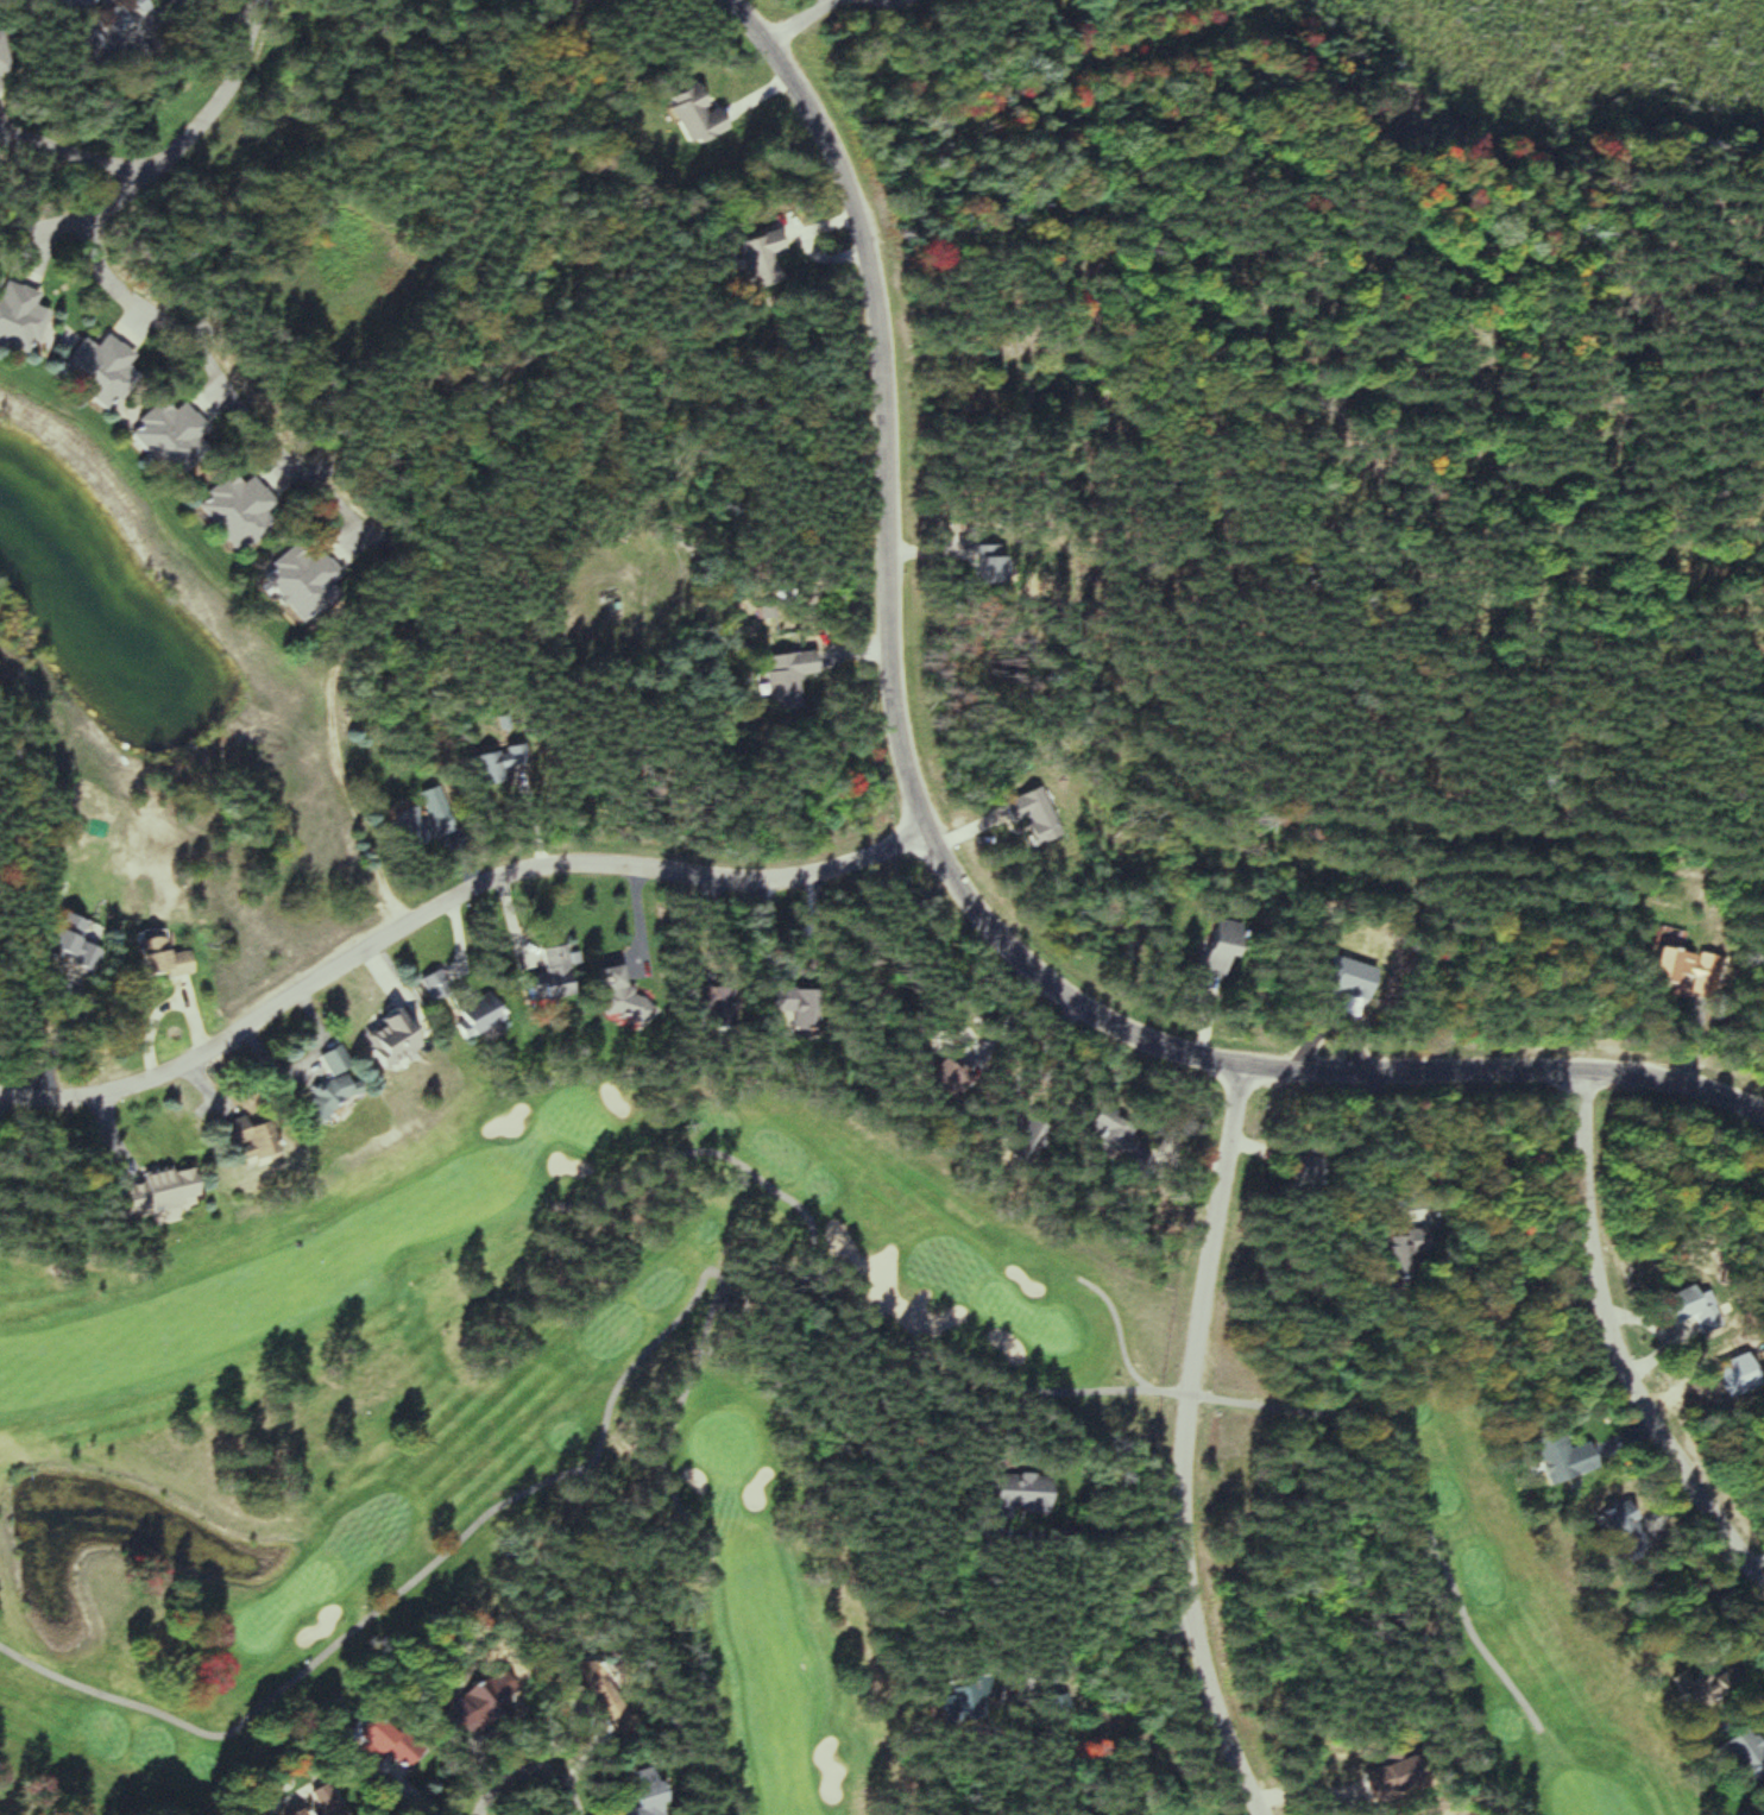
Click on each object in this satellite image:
building: (114, 2)
building: (84, 6)
building: (124, 19)
road: (799, 25)
building: (5, 57)
road: (227, 95)
building: (685, 112)
road: (78, 153)
road: (88, 223)
building: (752, 259)
building: (23, 316)
building: (107, 371)
road: (228, 377)
building: (175, 436)
building: (242, 509)
building: (977, 565)
building: (297, 584)
building: (776, 676)
building: (498, 770)
building: (1023, 815)
building: (416, 833)
road: (939, 862)
road: (443, 901)
building: (88, 945)
building: (1209, 947)
building: (169, 956)
building: (1678, 968)
building: (443, 987)
building: (623, 989)
building: (688, 998)
building: (779, 1007)
building: (490, 1012)
building: (402, 1032)
building: (920, 1077)
building: (342, 1089)
building: (991, 1127)
building: (1107, 1137)
building: (258, 1141)
building: (1289, 1167)
building: (163, 1192)
building: (1392, 1252)
building: (1674, 1305)
road: (1609, 1349)
road: (1184, 1447)
building: (1546, 1458)
park: (756, 1493)
building: (1001, 1498)
building: (1608, 1532)
building: (1684, 1688)
building: (976, 1697)
building: (479, 1704)
building: (396, 1742)
building: (1732, 1752)
building: (660, 1797)
building: (334, 1801)
road: (556, 1804)

